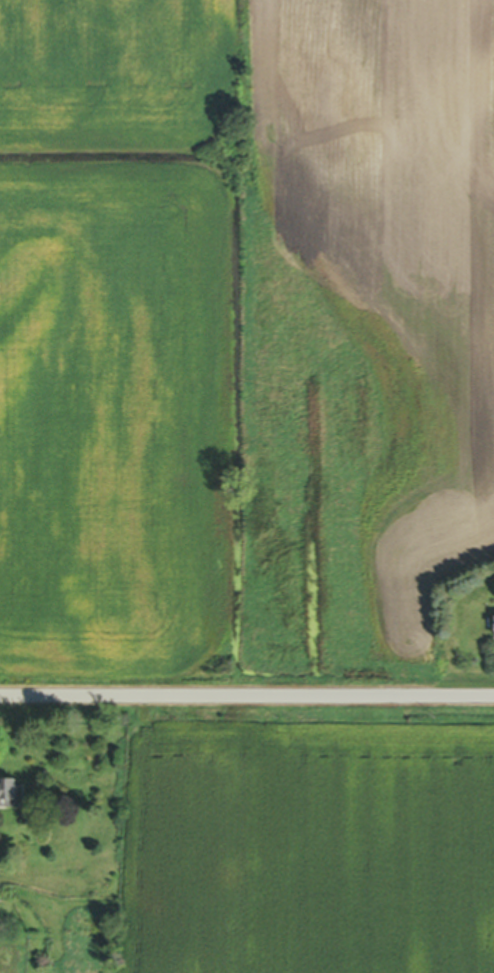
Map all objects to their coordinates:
road: (247, 696)
building: (13, 796)
building: (23, 904)

